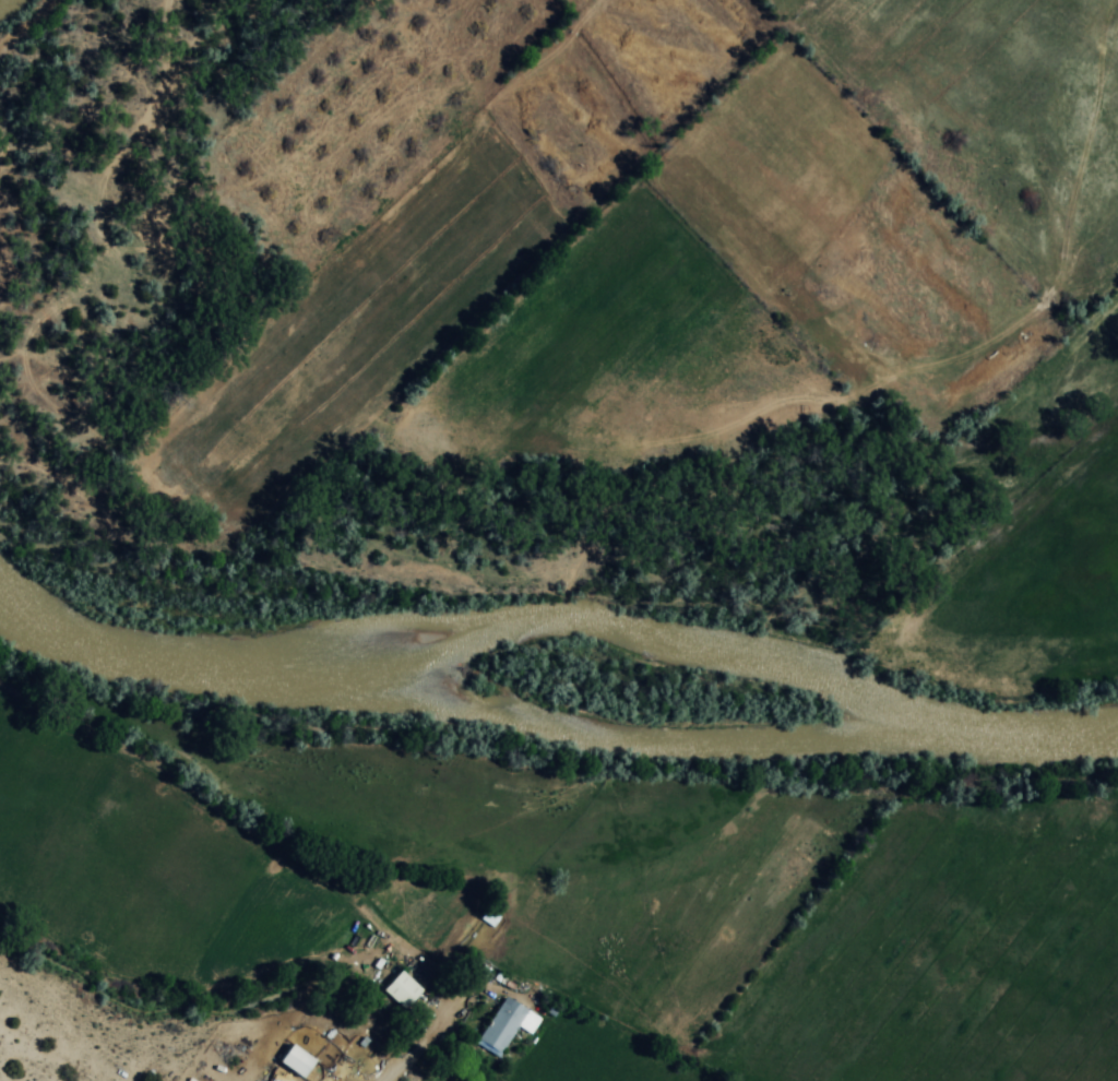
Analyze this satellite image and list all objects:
river: (631, 641)
river: (180, 667)
river: (994, 717)
building: (404, 991)
building: (504, 1026)
building: (298, 1062)
road: (386, 1074)

